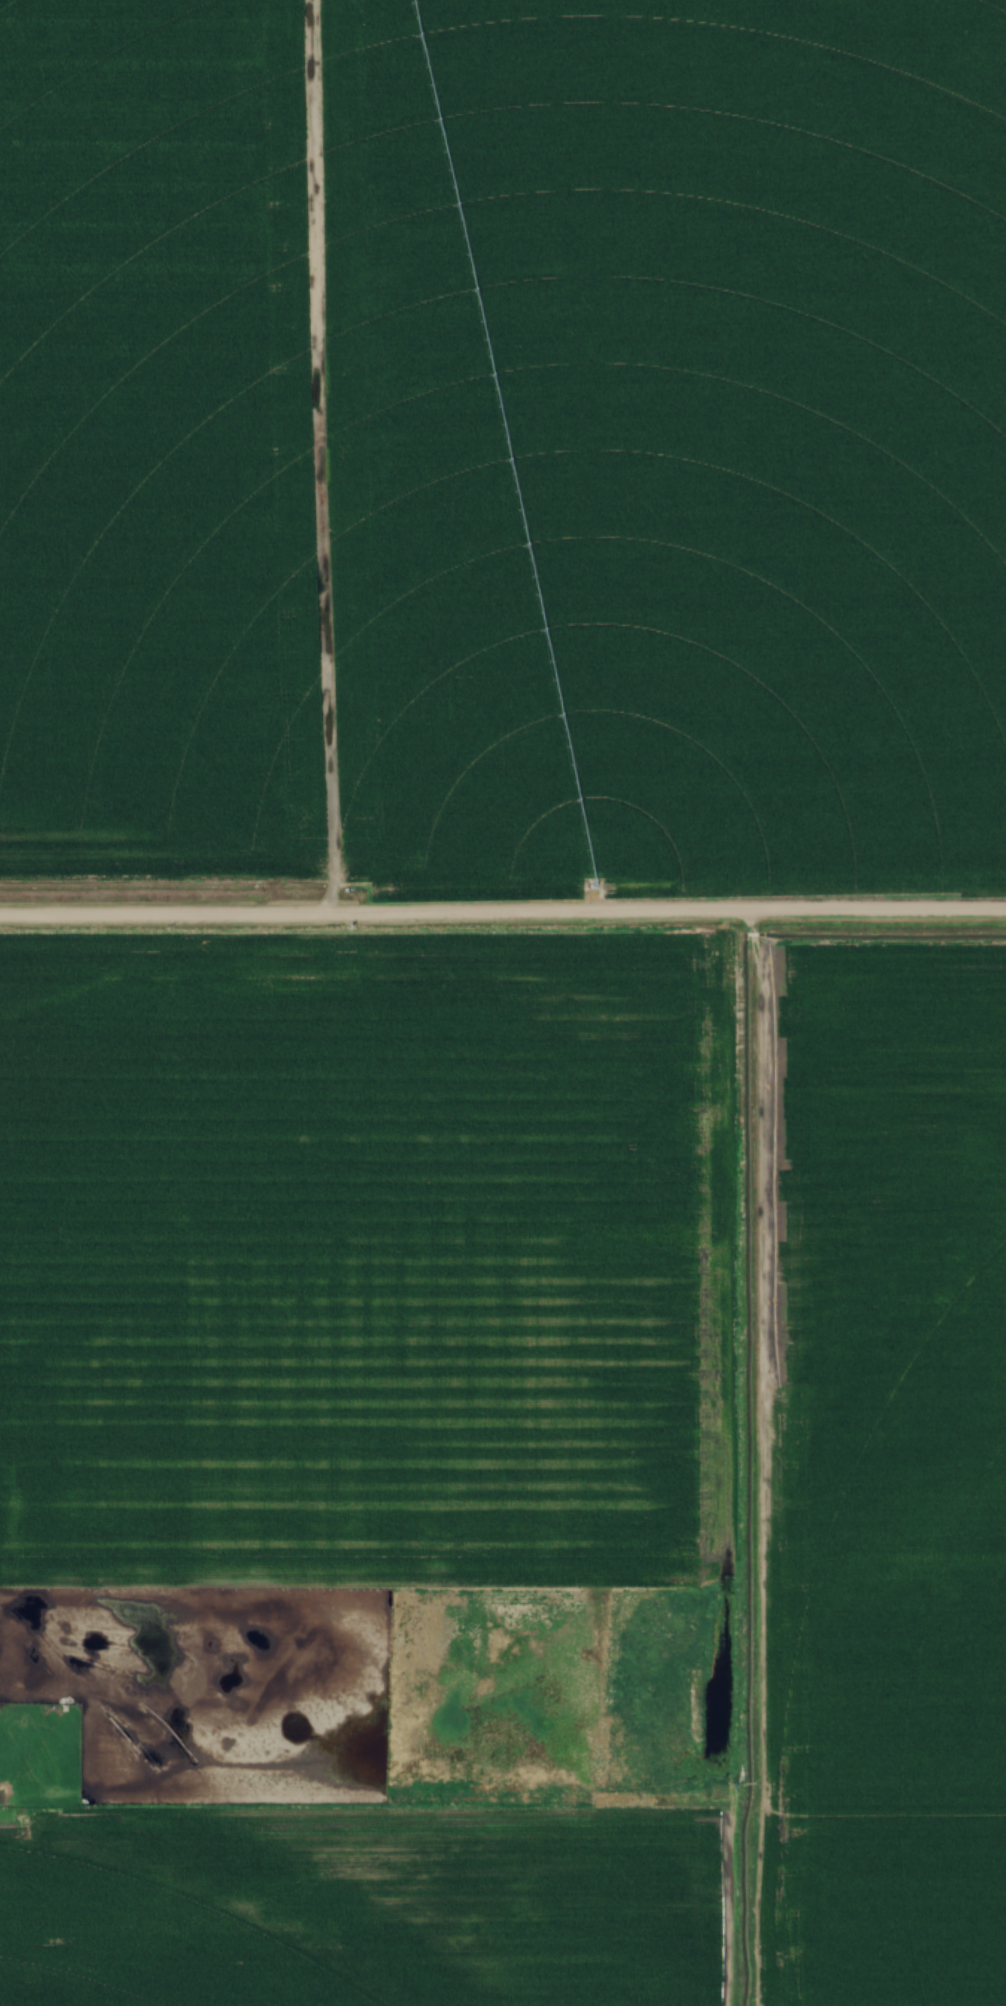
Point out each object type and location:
road: (503, 912)

